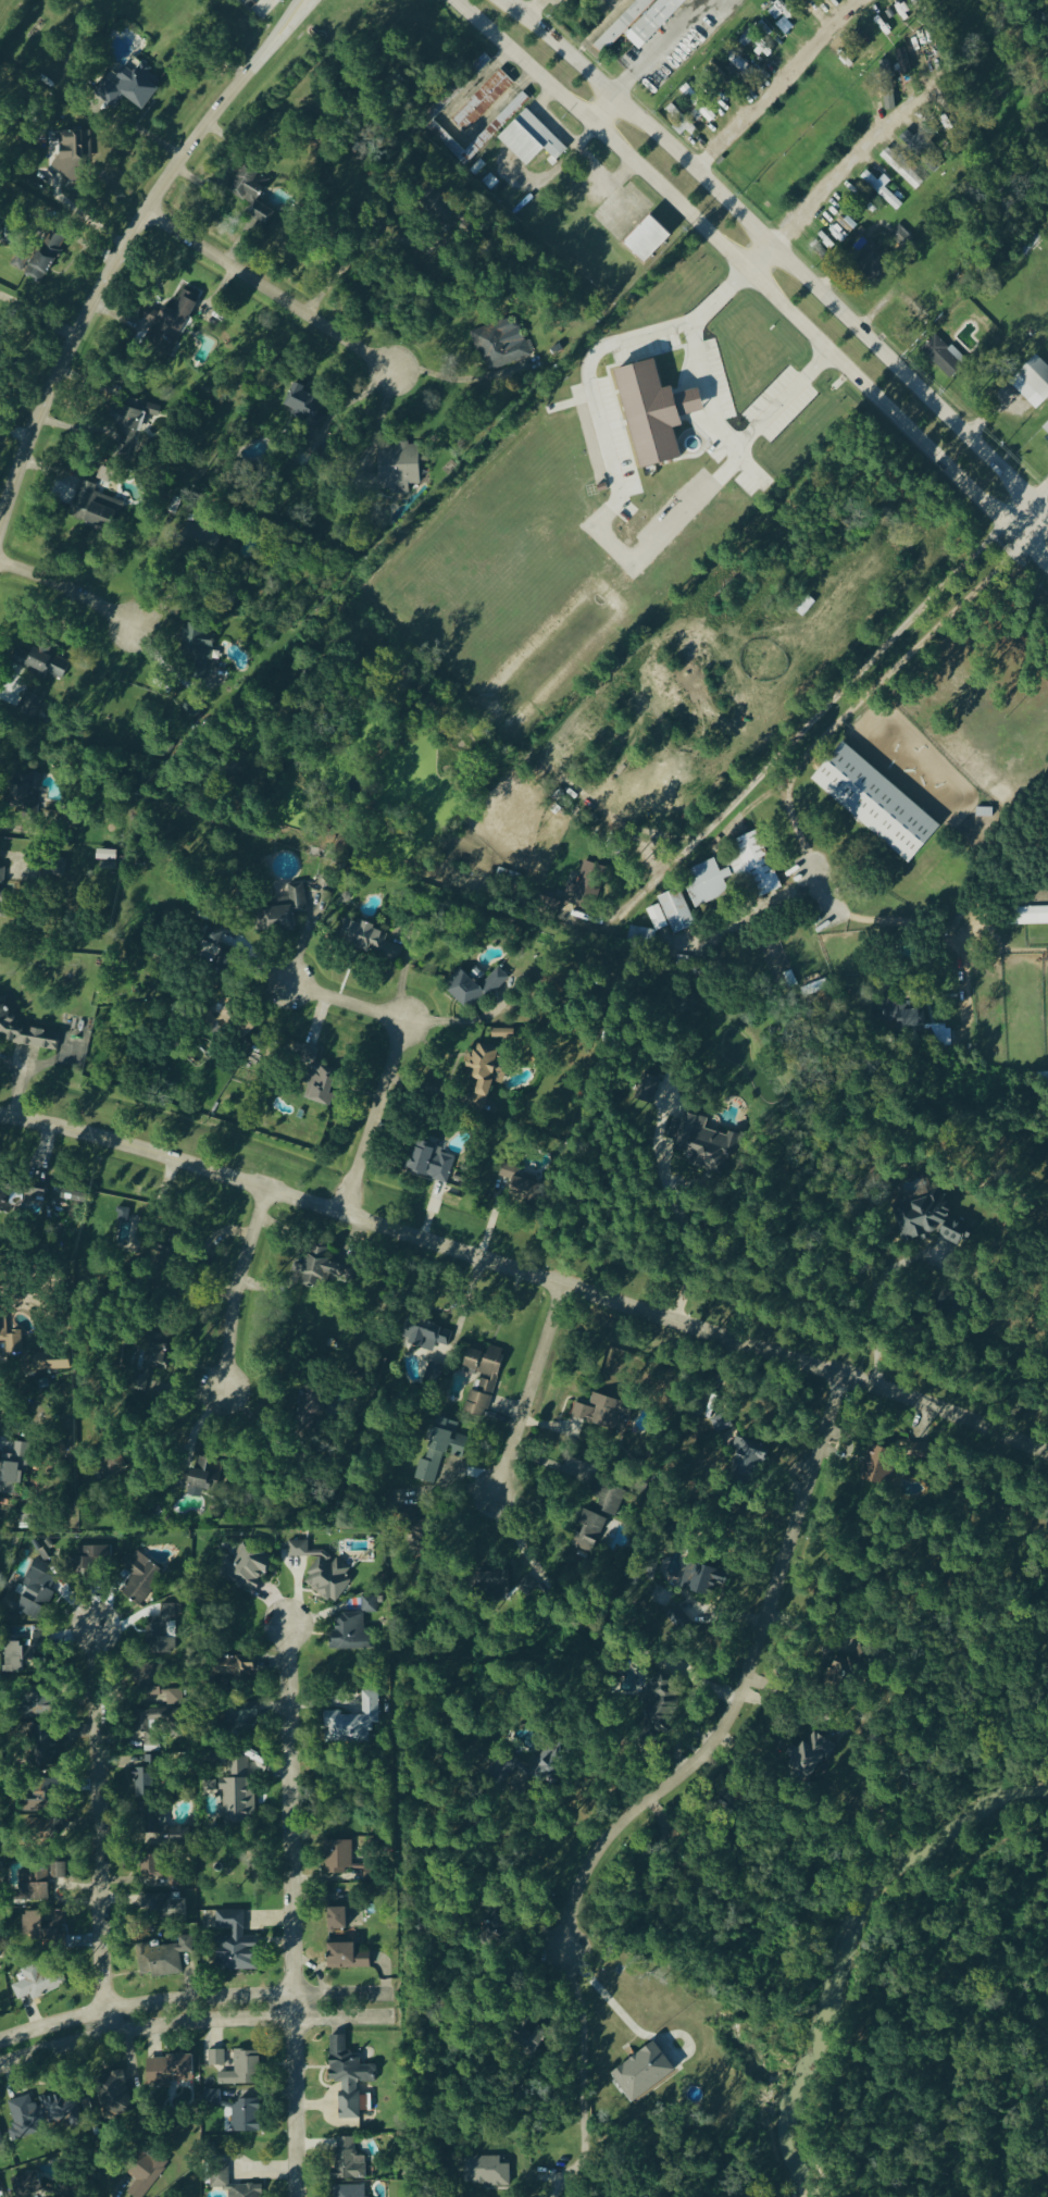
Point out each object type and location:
building: (619, 0)
road: (535, 8)
building: (781, 17)
road: (283, 18)
road: (294, 21)
building: (622, 26)
road: (659, 46)
building: (866, 55)
road: (965, 65)
road: (779, 86)
building: (130, 87)
building: (483, 102)
road: (537, 103)
road: (604, 110)
building: (703, 110)
building: (511, 112)
road: (138, 132)
building: (532, 140)
building: (911, 144)
building: (74, 149)
road: (868, 156)
building: (902, 169)
building: (878, 175)
building: (882, 191)
building: (250, 194)
building: (900, 237)
building: (648, 240)
building: (47, 258)
road: (779, 259)
road: (352, 260)
building: (18, 262)
road: (759, 262)
road: (110, 268)
road: (754, 282)
road: (272, 289)
building: (501, 345)
building: (944, 357)
building: (1033, 384)
building: (303, 404)
road: (710, 412)
building: (657, 413)
building: (134, 419)
building: (1046, 427)
building: (398, 469)
road: (1041, 499)
building: (93, 508)
road: (1023, 520)
road: (75, 589)
building: (199, 649)
building: (39, 662)
road: (803, 727)
road: (803, 754)
building: (24, 789)
building: (877, 804)
crop: (896, 848)
building: (105, 855)
building: (107, 866)
building: (736, 873)
building: (676, 913)
building: (283, 914)
building: (1032, 917)
building: (657, 919)
building: (641, 935)
building: (370, 942)
building: (472, 989)
building: (228, 1019)
building: (912, 1021)
building: (23, 1031)
building: (502, 1034)
building: (304, 1057)
road: (399, 1057)
building: (486, 1071)
building: (324, 1089)
building: (645, 1093)
building: (702, 1141)
building: (432, 1164)
building: (521, 1184)
building: (22, 1196)
building: (72, 1197)
road: (674, 1203)
building: (123, 1215)
building: (934, 1220)
building: (324, 1268)
road: (527, 1269)
road: (242, 1286)
road: (875, 1300)
building: (428, 1332)
building: (5, 1338)
building: (151, 1364)
building: (482, 1376)
road: (534, 1389)
building: (313, 1404)
building: (602, 1414)
building: (449, 1443)
building: (926, 1451)
building: (750, 1459)
building: (14, 1464)
building: (878, 1465)
building: (428, 1469)
building: (204, 1475)
building: (610, 1501)
building: (219, 1511)
building: (591, 1528)
building: (424, 1537)
building: (91, 1556)
building: (247, 1567)
building: (323, 1572)
building: (708, 1578)
building: (495, 1580)
building: (142, 1582)
building: (371, 1604)
building: (164, 1623)
building: (352, 1634)
building: (25, 1654)
building: (843, 1661)
building: (237, 1667)
road: (740, 1686)
building: (174, 1698)
building: (660, 1706)
building: (352, 1722)
building: (811, 1754)
building: (548, 1765)
building: (144, 1777)
building: (238, 1793)
building: (40, 1797)
building: (39, 1826)
building: (155, 1827)
road: (97, 1828)
building: (347, 1862)
building: (152, 1869)
building: (58, 1872)
building: (33, 1886)
building: (175, 1908)
road: (294, 1910)
building: (338, 1920)
building: (500, 1921)
building: (54, 1924)
building: (32, 1925)
building: (235, 1944)
river: (851, 1952)
building: (350, 1957)
building: (164, 1960)
building: (37, 1984)
road: (342, 1996)
road: (608, 2000)
road: (145, 2006)
road: (344, 2021)
road: (145, 2028)
building: (536, 2041)
building: (220, 2058)
building: (242, 2070)
building: (170, 2071)
building: (642, 2071)
building: (349, 2078)
building: (114, 2095)
building: (42, 2114)
building: (246, 2117)
building: (1, 2143)
building: (348, 2161)
building: (486, 2172)
building: (220, 2175)
building: (147, 2176)
building: (28, 2186)
building: (349, 2192)

